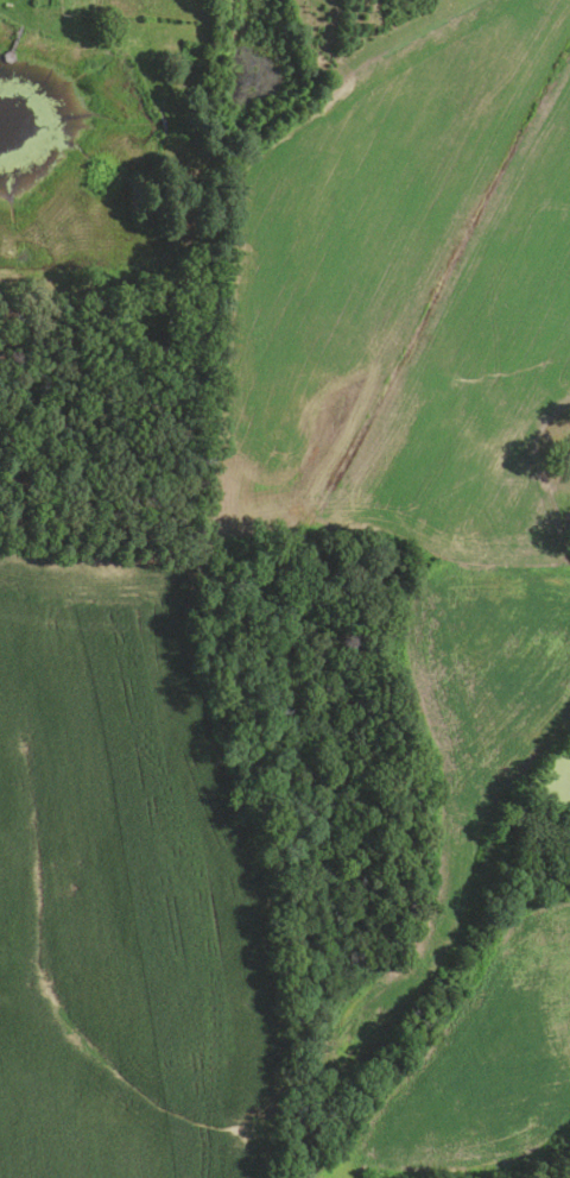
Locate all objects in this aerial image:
building: (566, 452)

